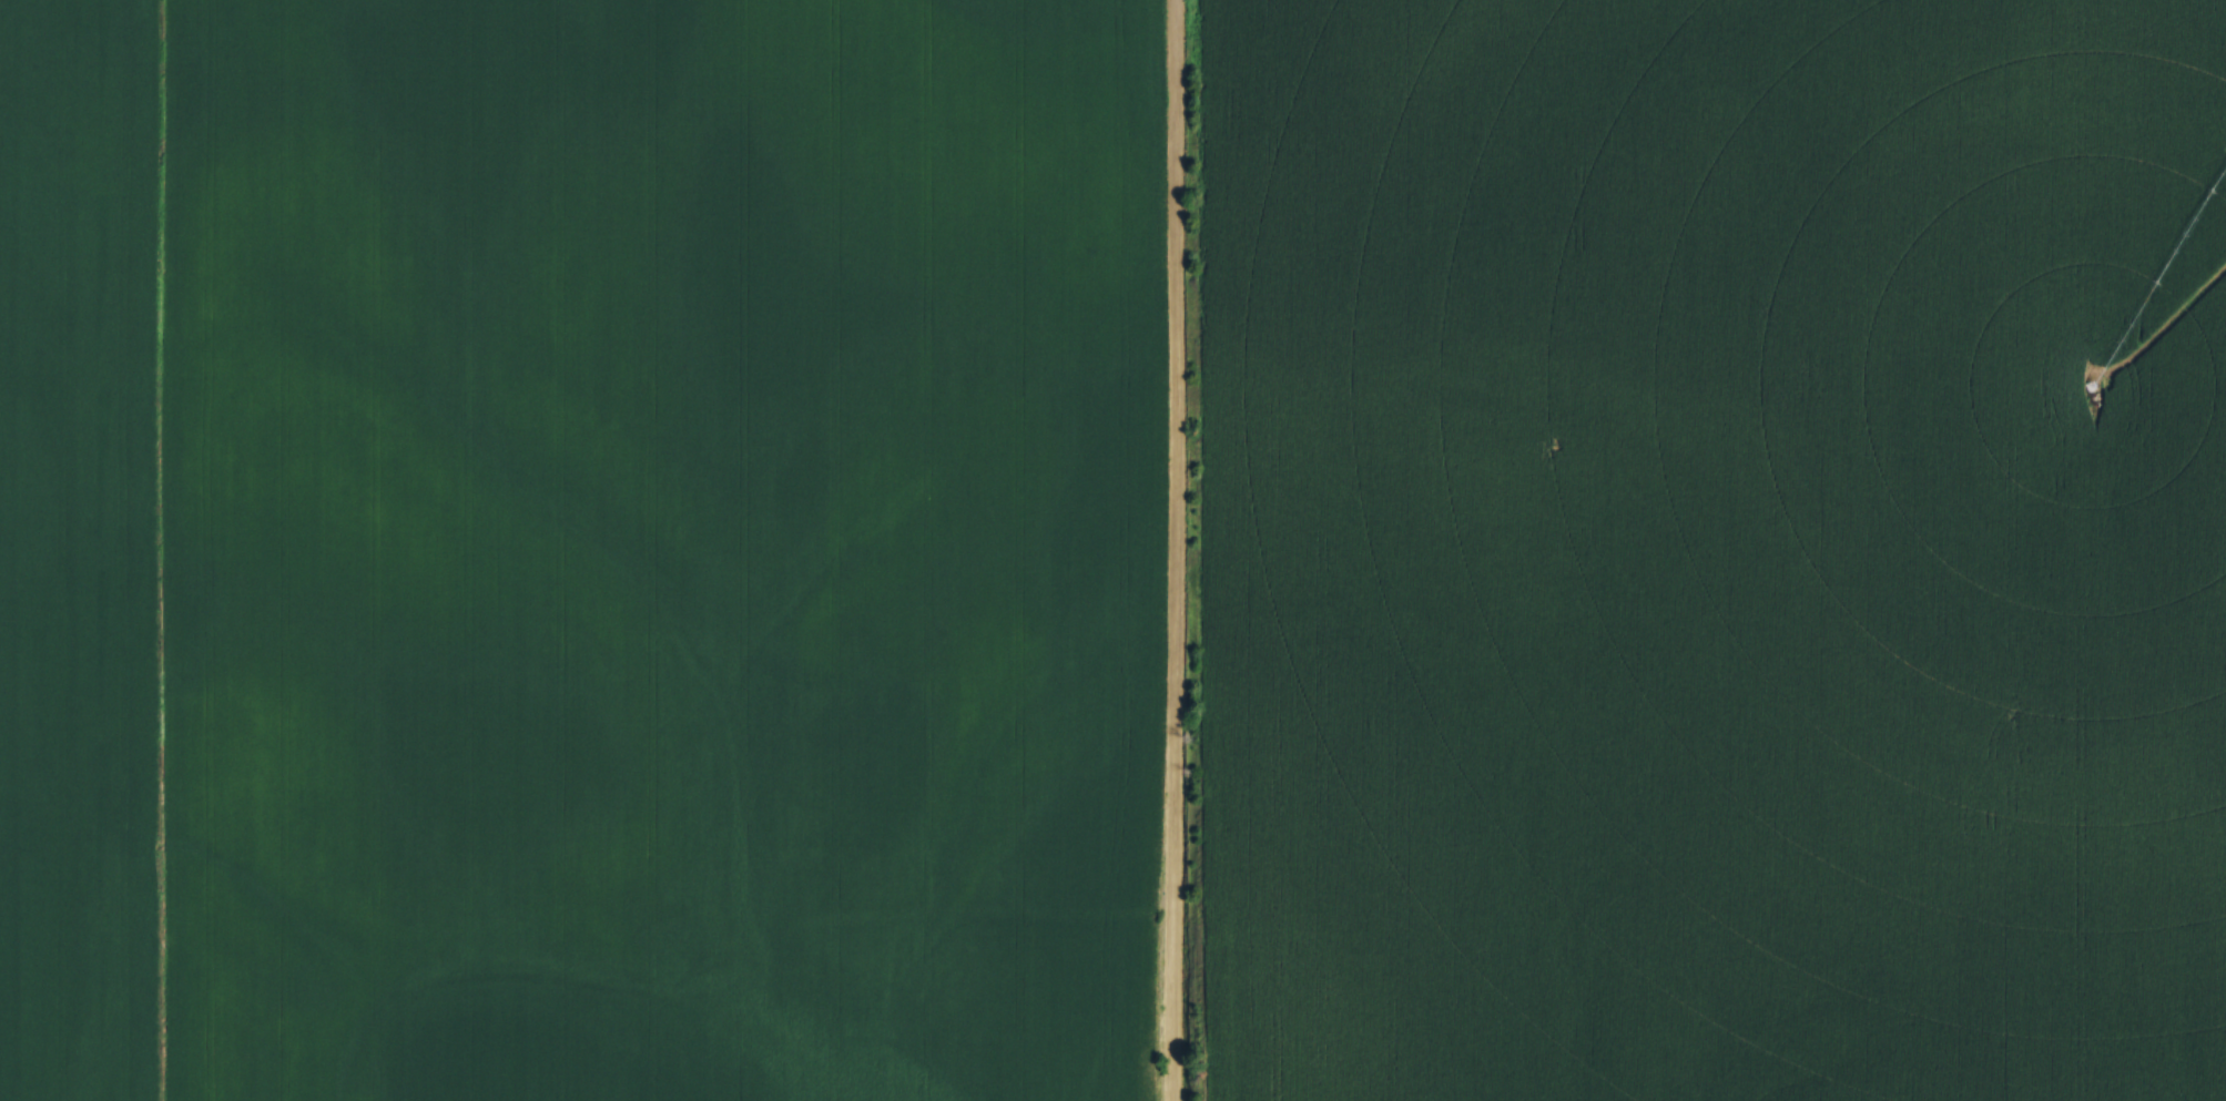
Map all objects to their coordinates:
road: (1175, 550)

